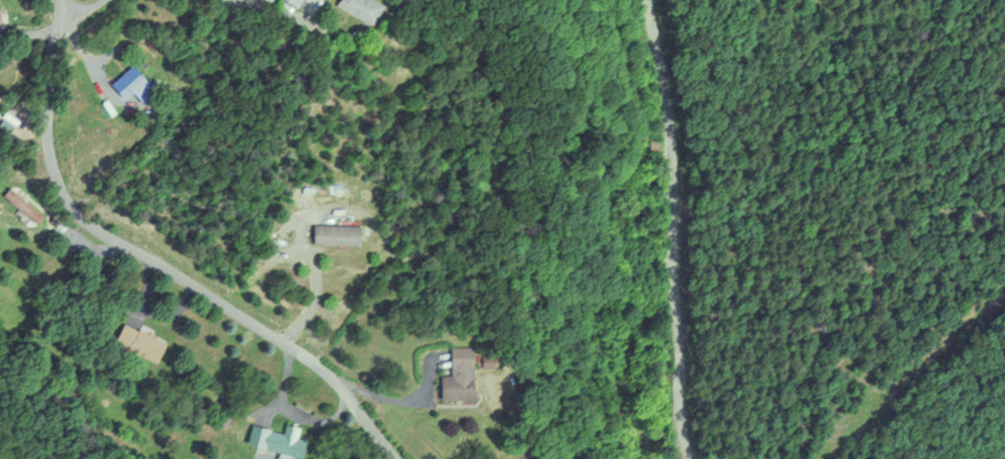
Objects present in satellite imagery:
building: (291, 2)
building: (360, 8)
building: (129, 84)
building: (20, 204)
road: (677, 228)
building: (334, 234)
road: (155, 262)
building: (137, 341)
building: (455, 375)
building: (274, 439)

